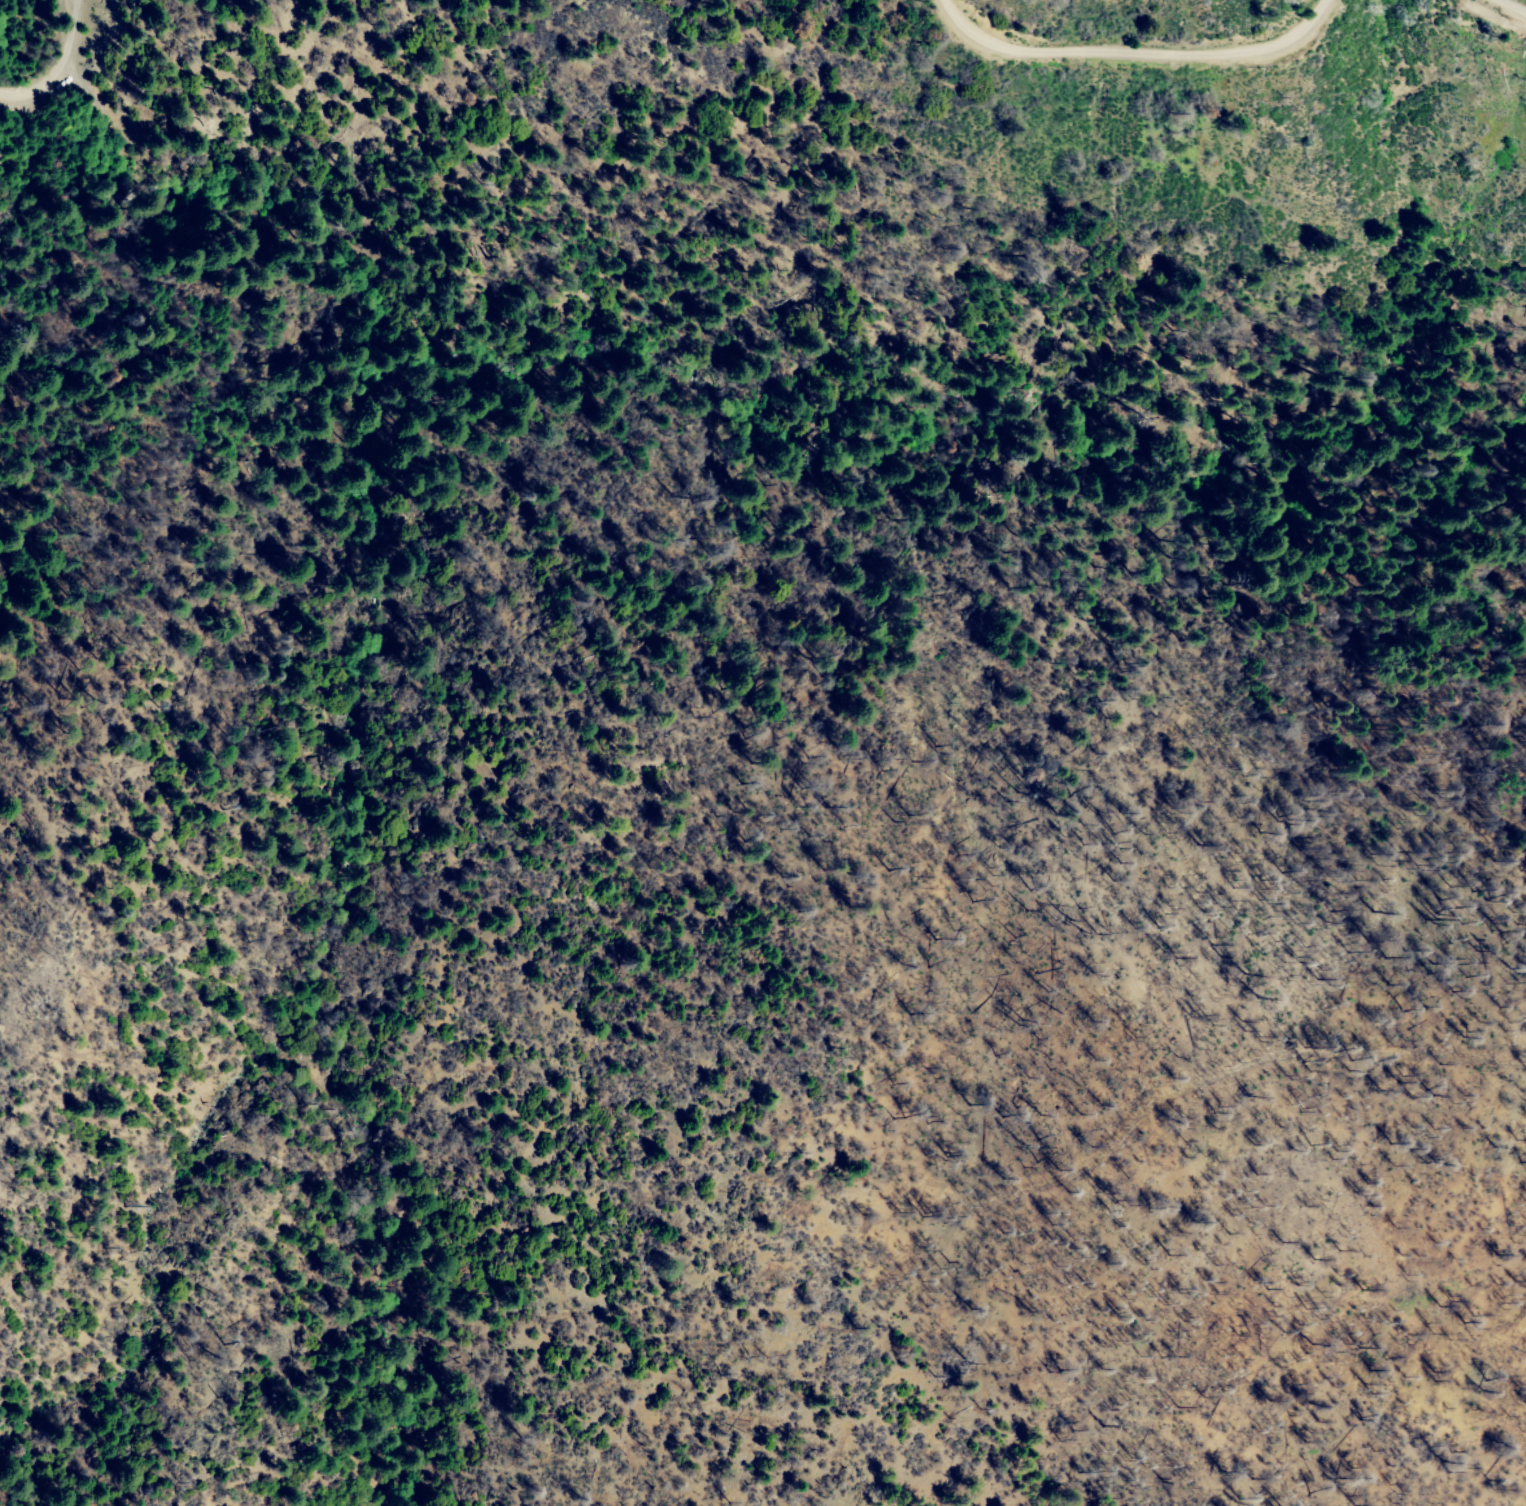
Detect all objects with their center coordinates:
road: (1137, 48)
road: (66, 64)

